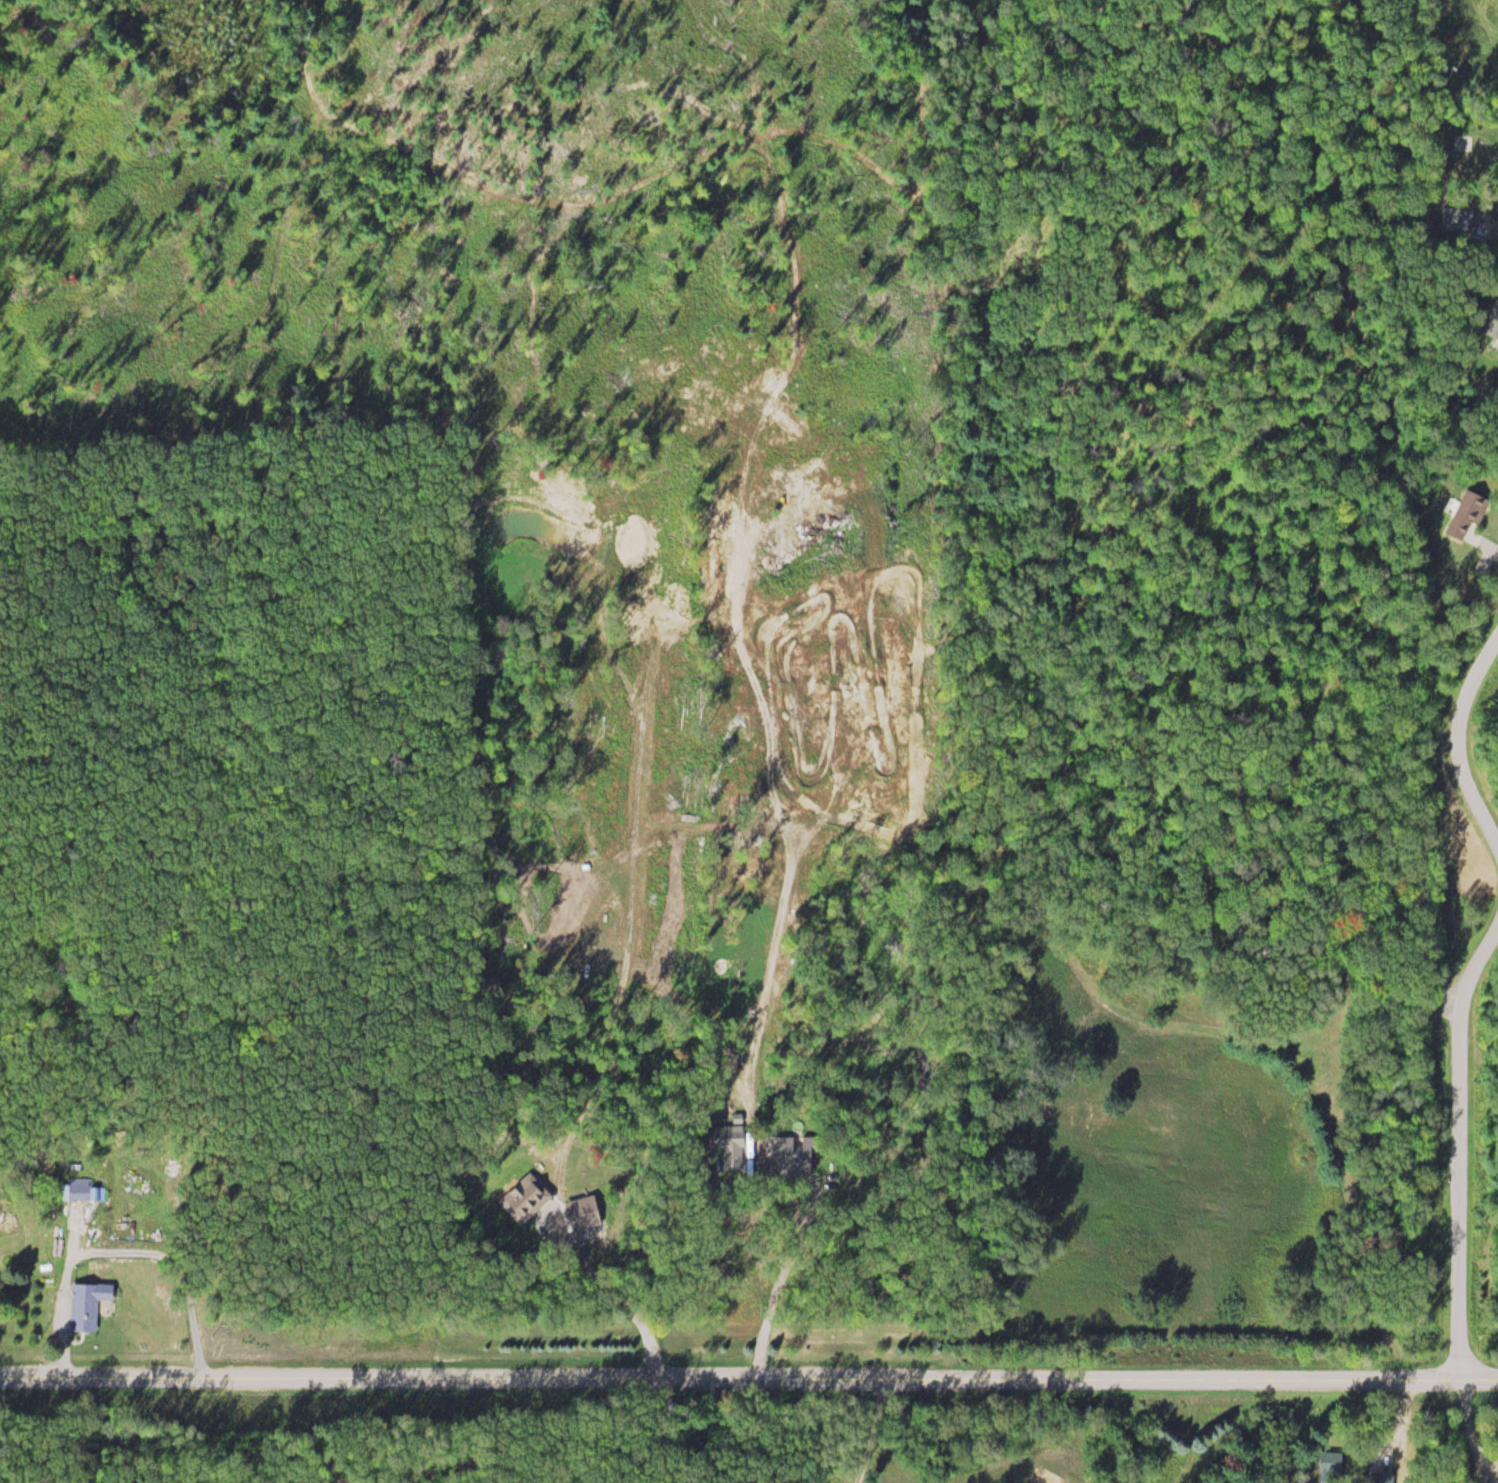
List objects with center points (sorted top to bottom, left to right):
building: (1495, 319)
building: (1472, 515)
road: (1474, 548)
road: (1454, 743)
building: (734, 1148)
road: (1459, 1151)
building: (802, 1157)
building: (89, 1191)
building: (528, 1199)
building: (89, 1306)
road: (749, 1371)

